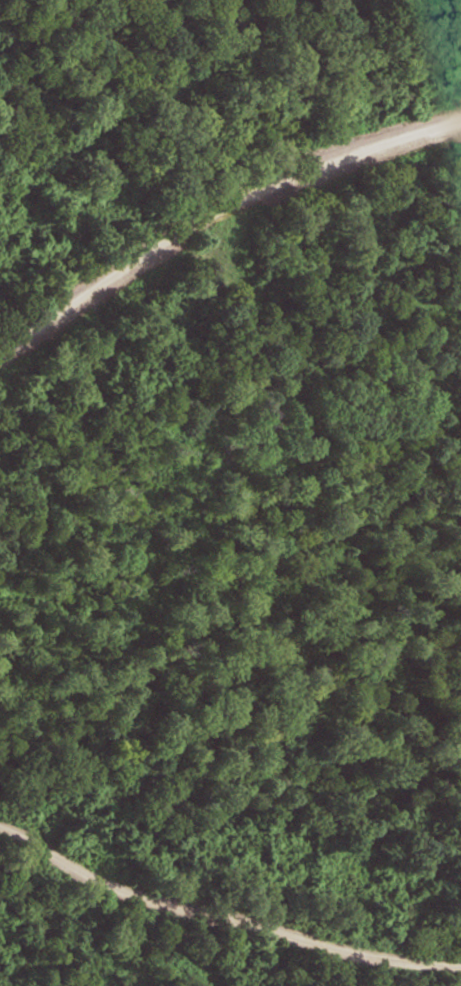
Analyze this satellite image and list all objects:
road: (220, 224)

